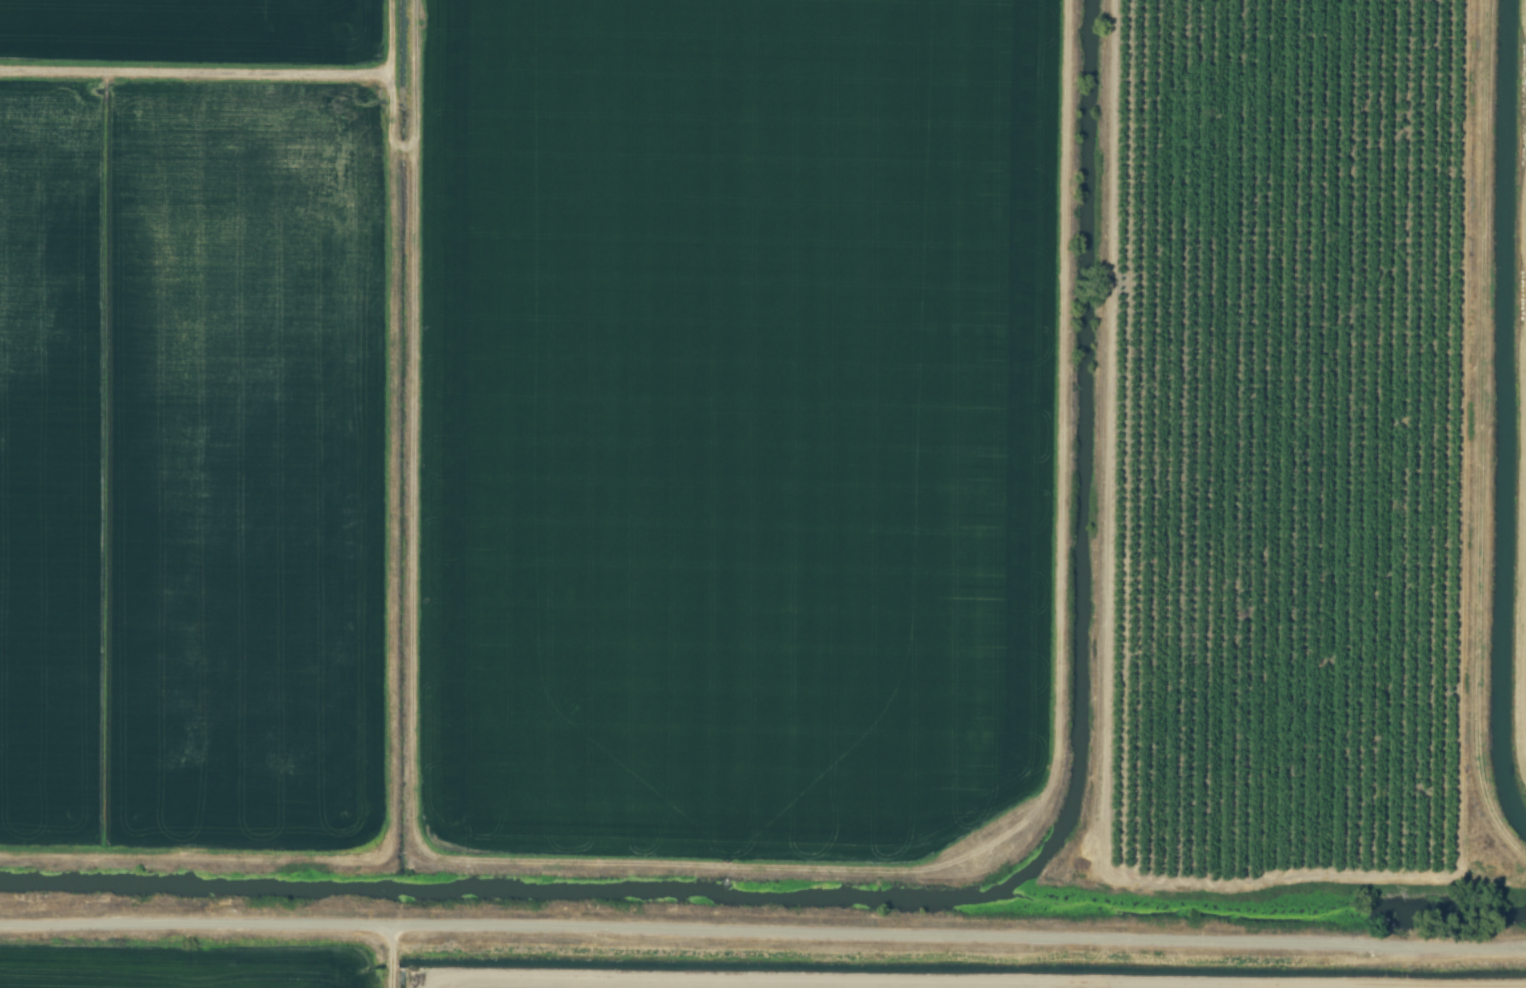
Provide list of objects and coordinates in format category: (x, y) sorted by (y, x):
crop: (729, 425)
road: (1056, 726)
road: (763, 933)

